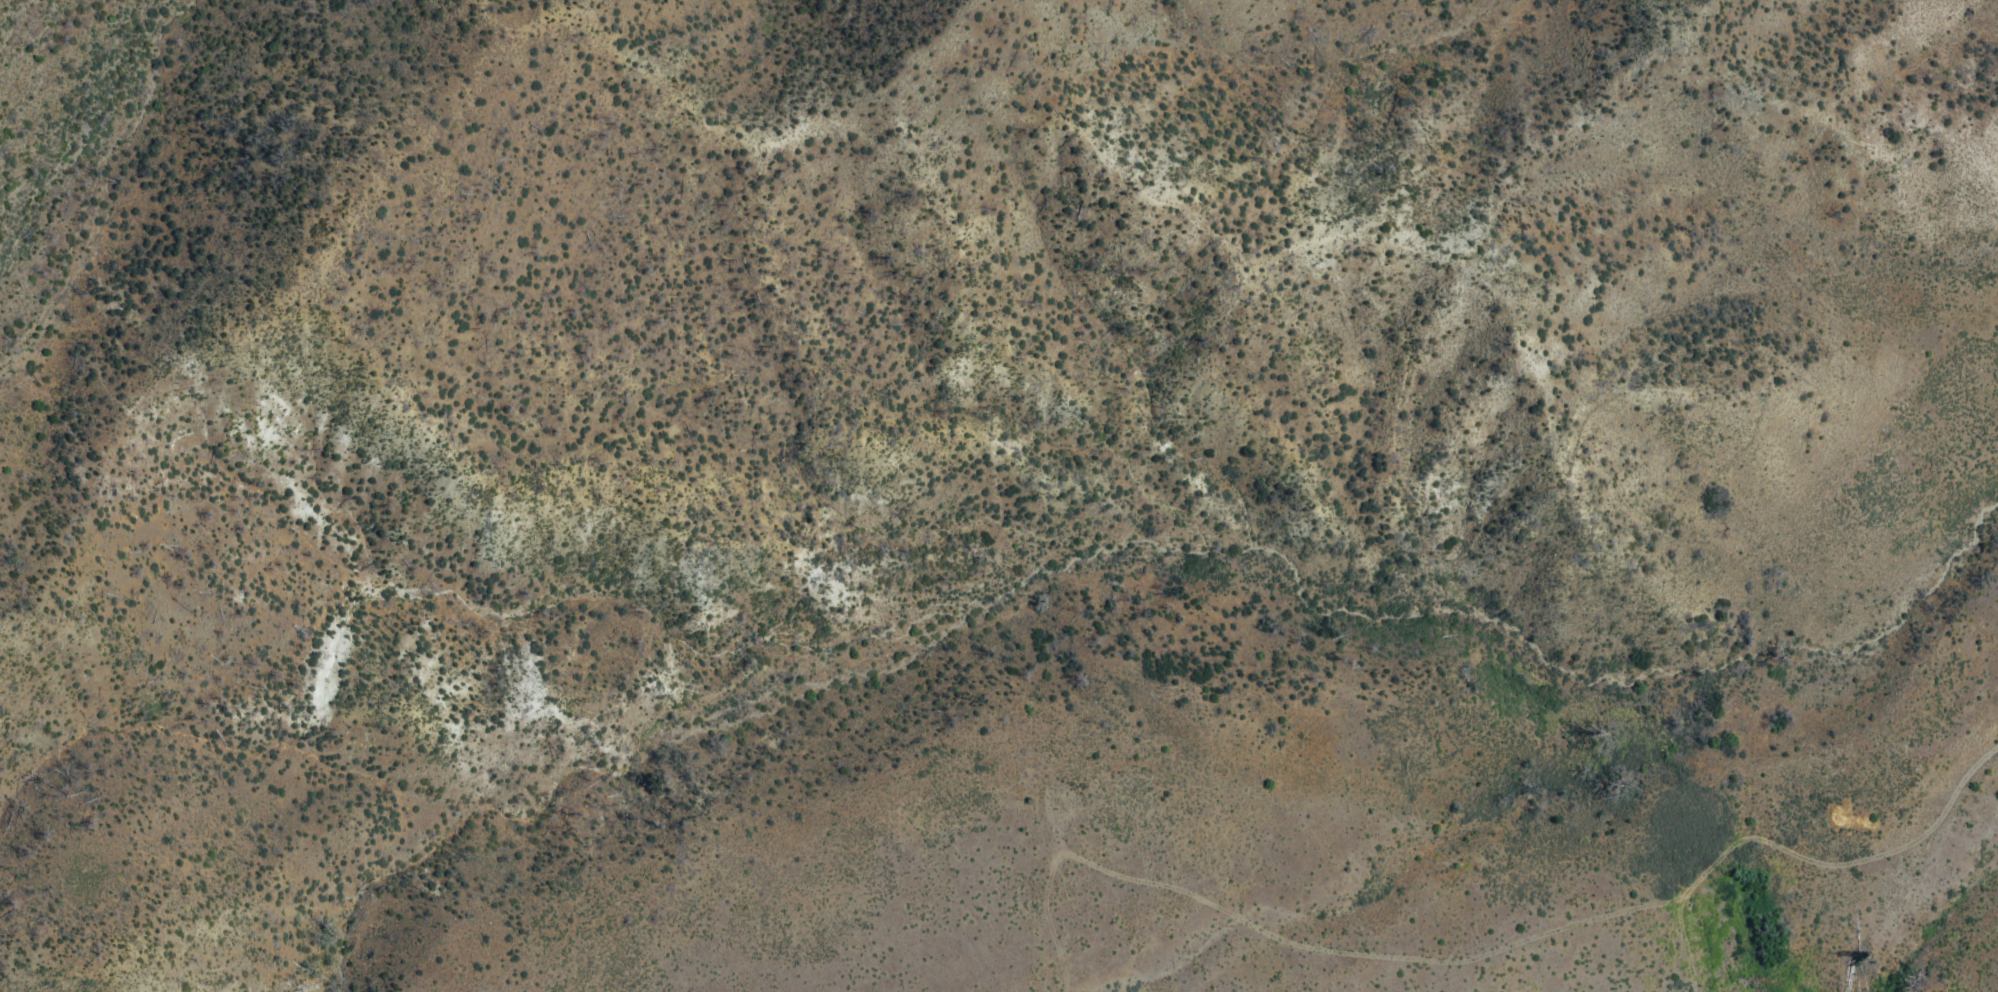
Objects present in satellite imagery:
road: (1809, 858)

